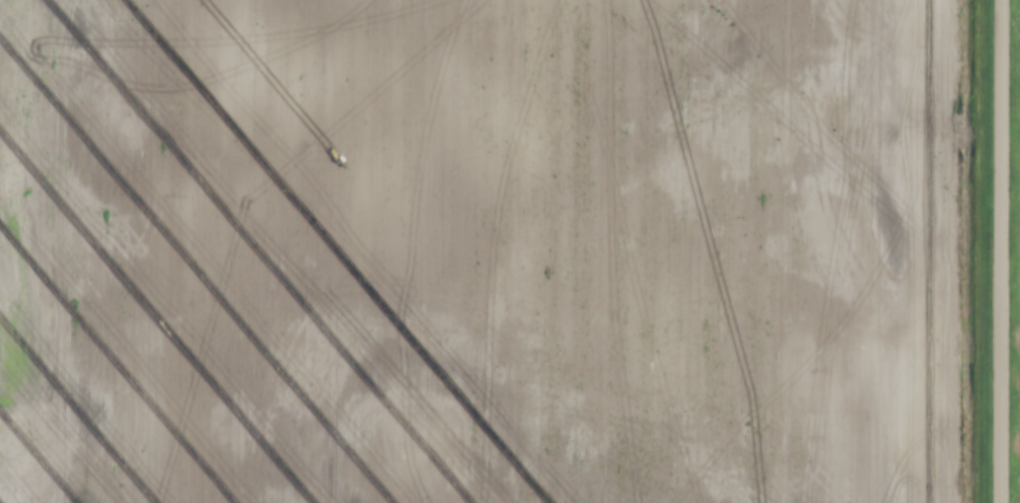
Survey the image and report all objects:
road: (1004, 251)

